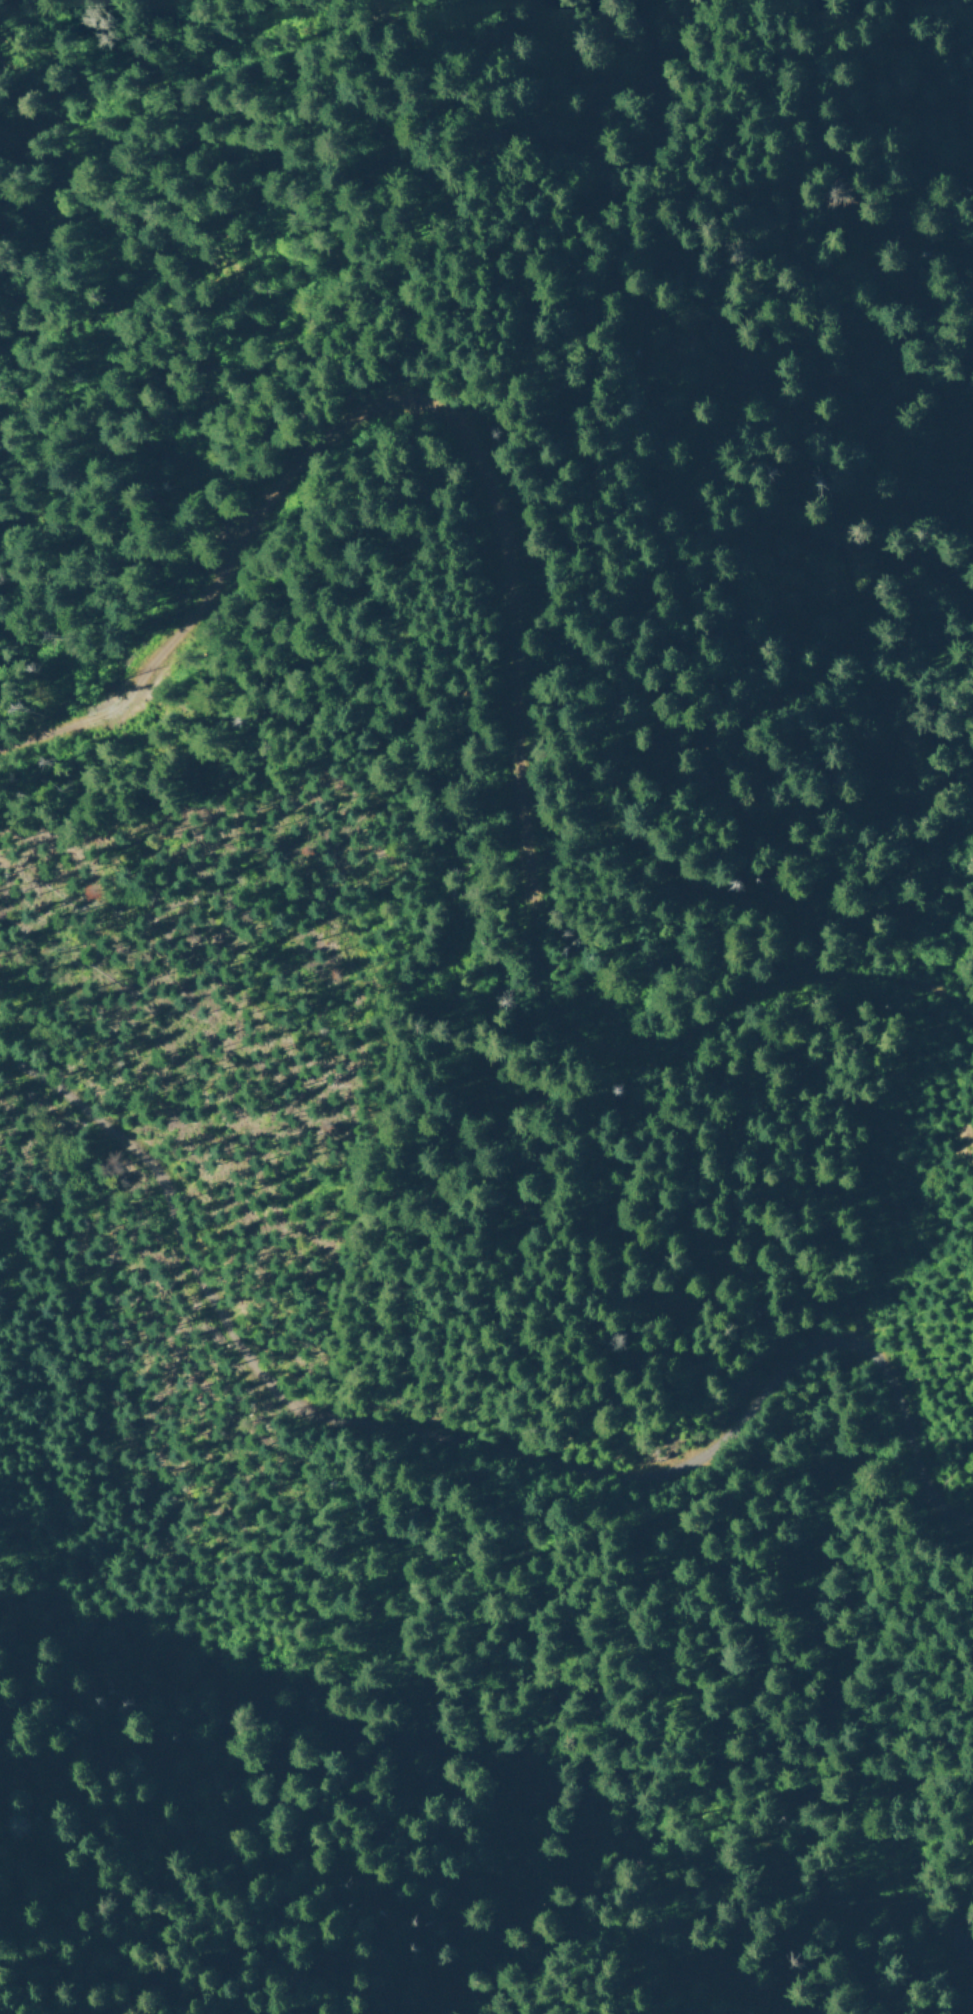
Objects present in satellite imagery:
road: (476, 1447)

